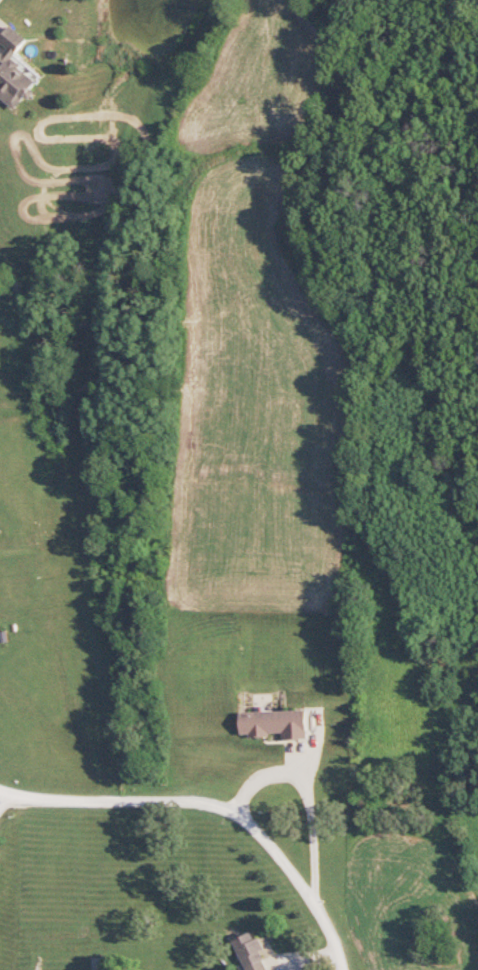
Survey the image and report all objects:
building: (12, 67)
building: (270, 722)
road: (213, 808)
building: (247, 951)

